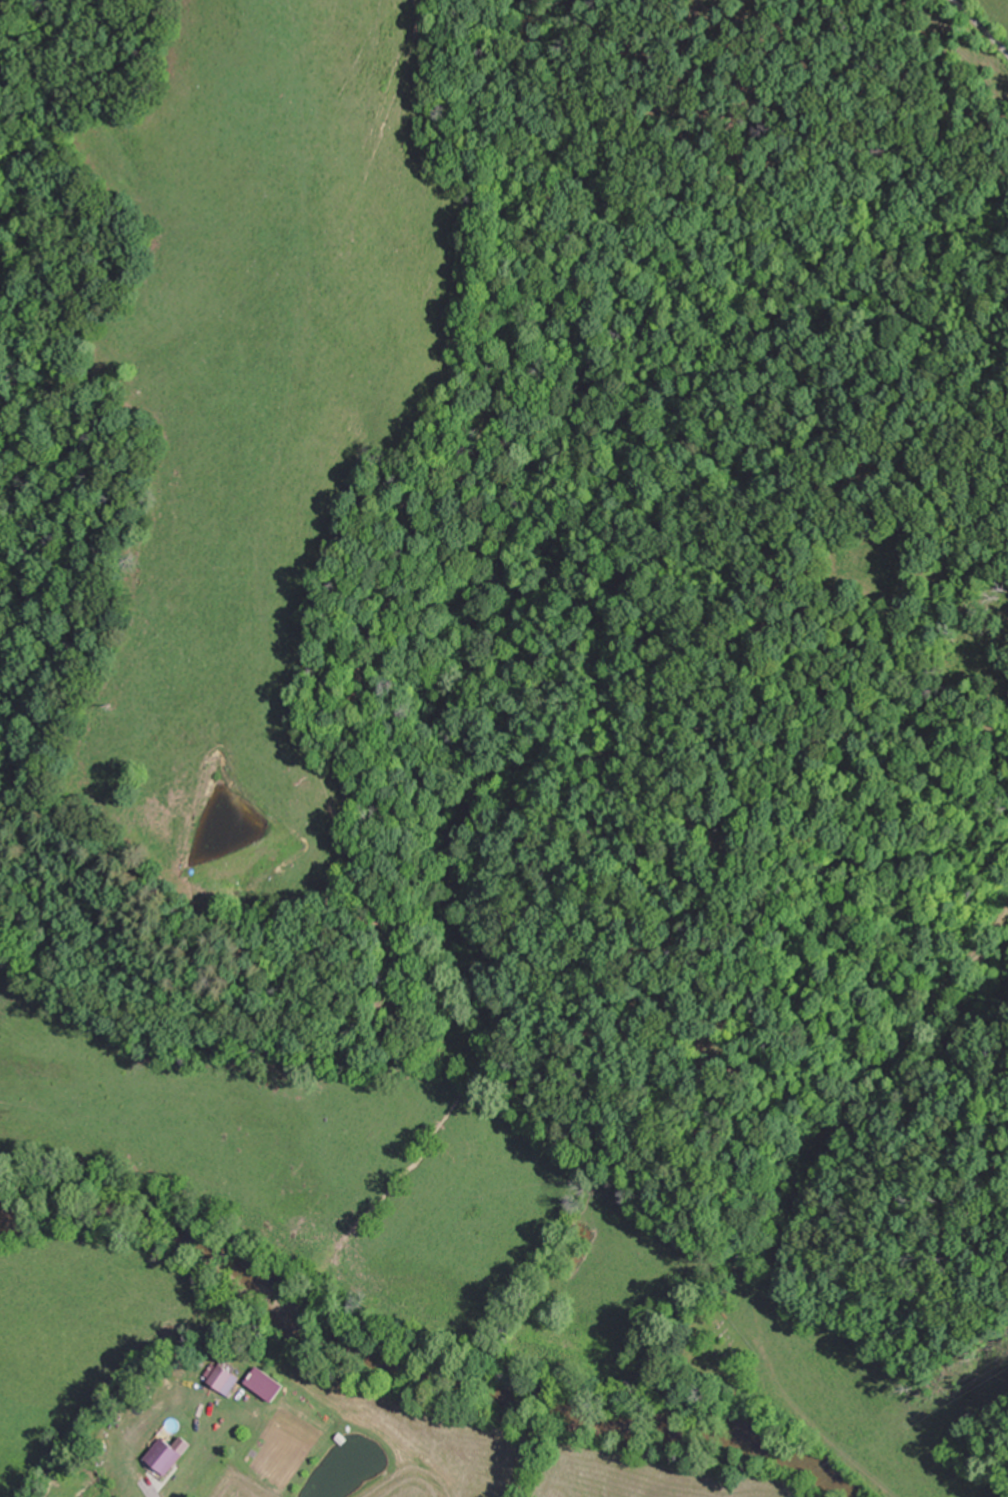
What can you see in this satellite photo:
road: (981, 27)
road: (887, 1080)
park: (711, 1348)
river: (416, 1367)
building: (225, 1378)
road: (810, 1426)
building: (167, 1457)

